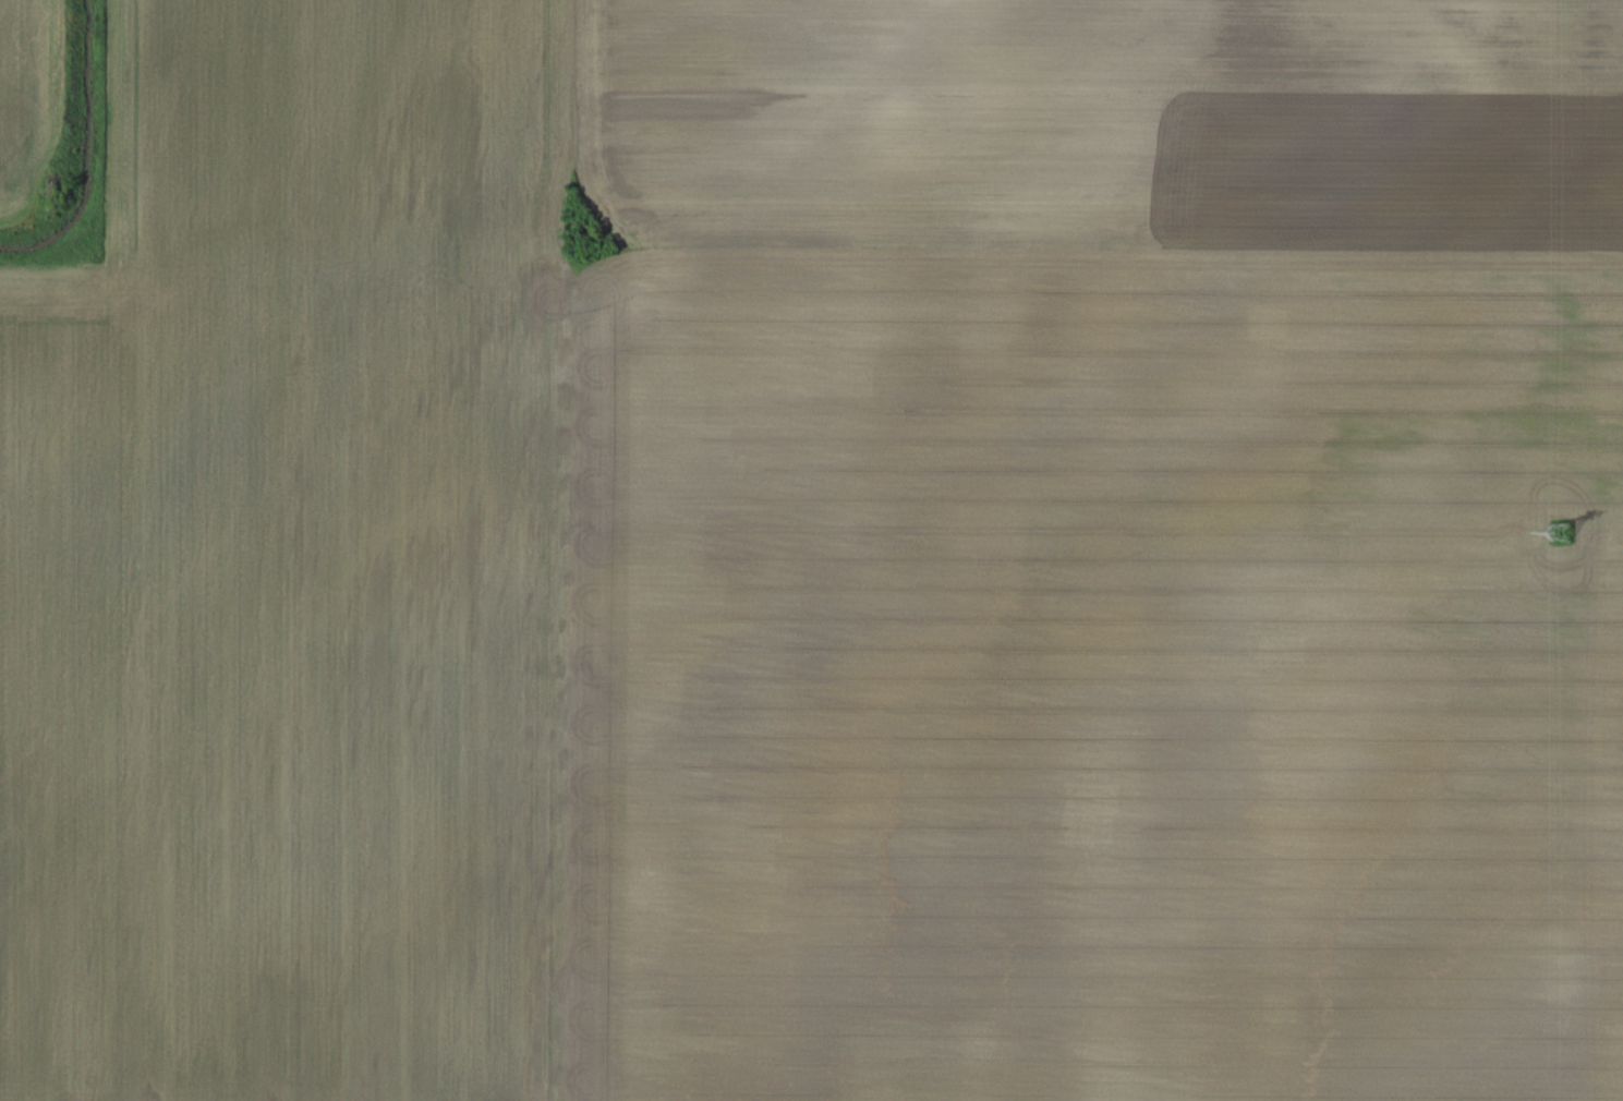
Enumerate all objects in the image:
power tower: (1567, 539)

